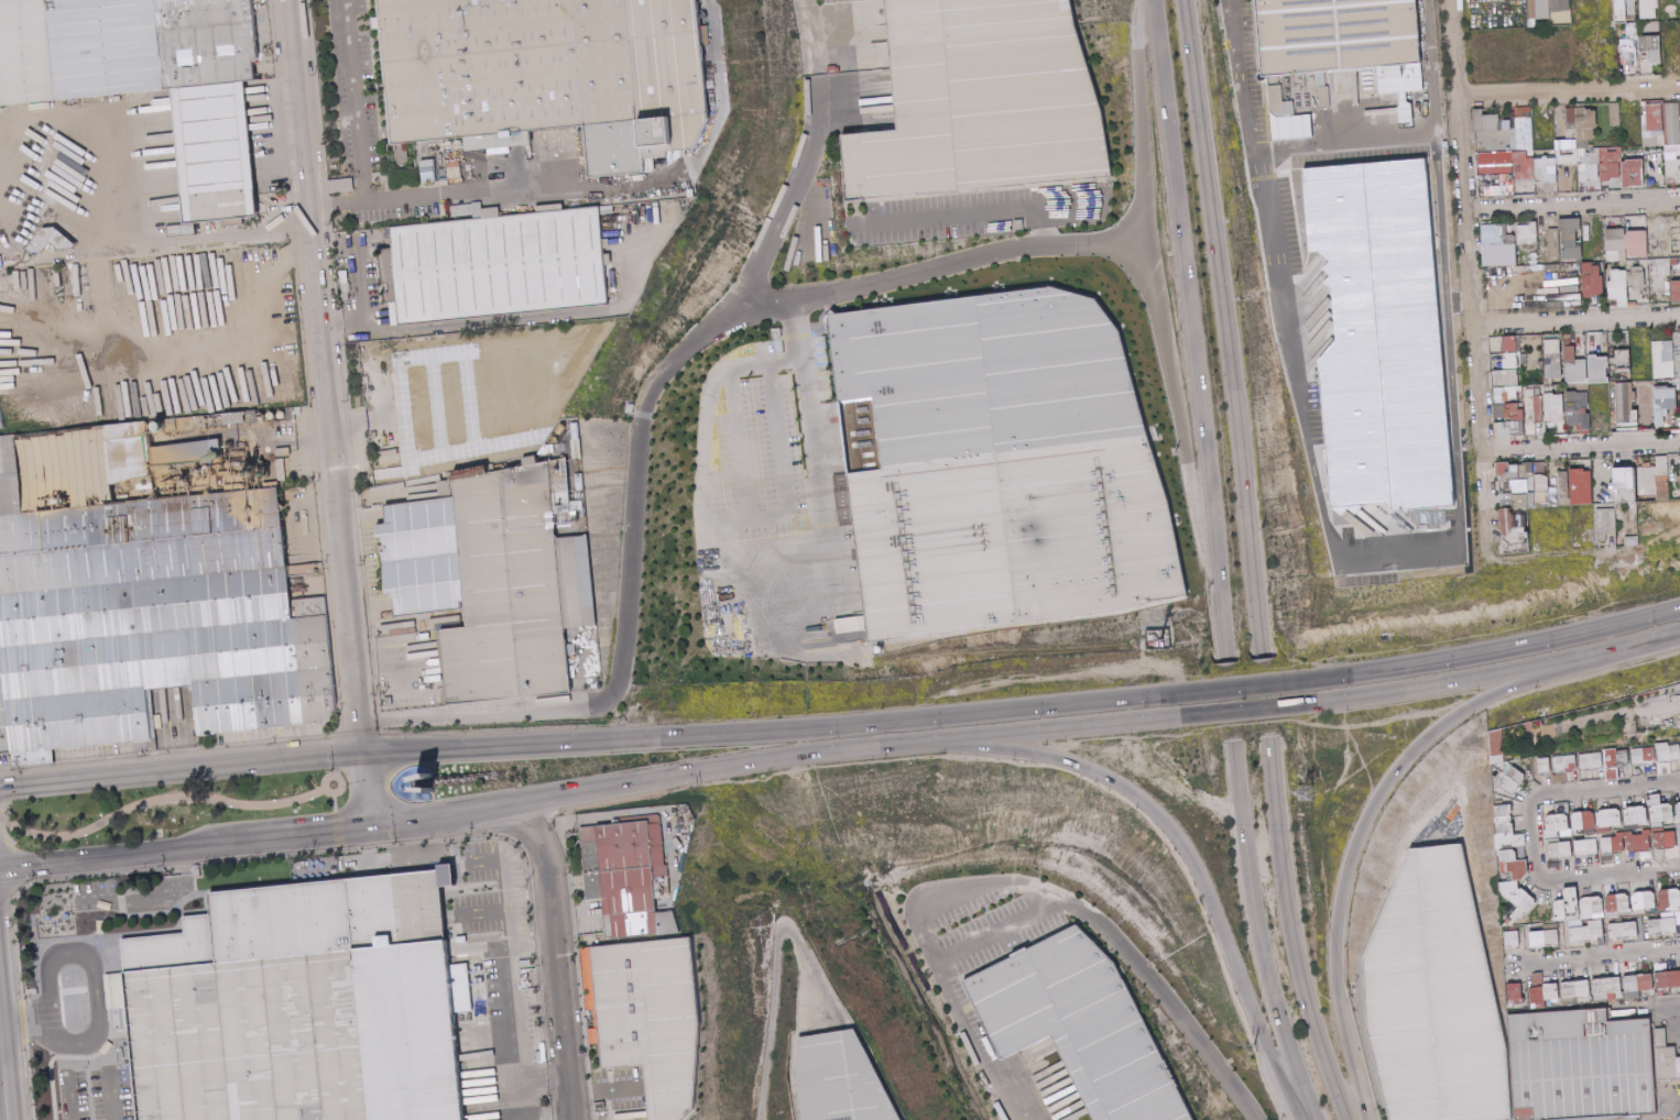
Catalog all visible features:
power tower: (1202, 33)
power tower: (1233, 282)
power tower: (1262, 527)
power tower: (1306, 792)
power tower: (1254, 1044)

